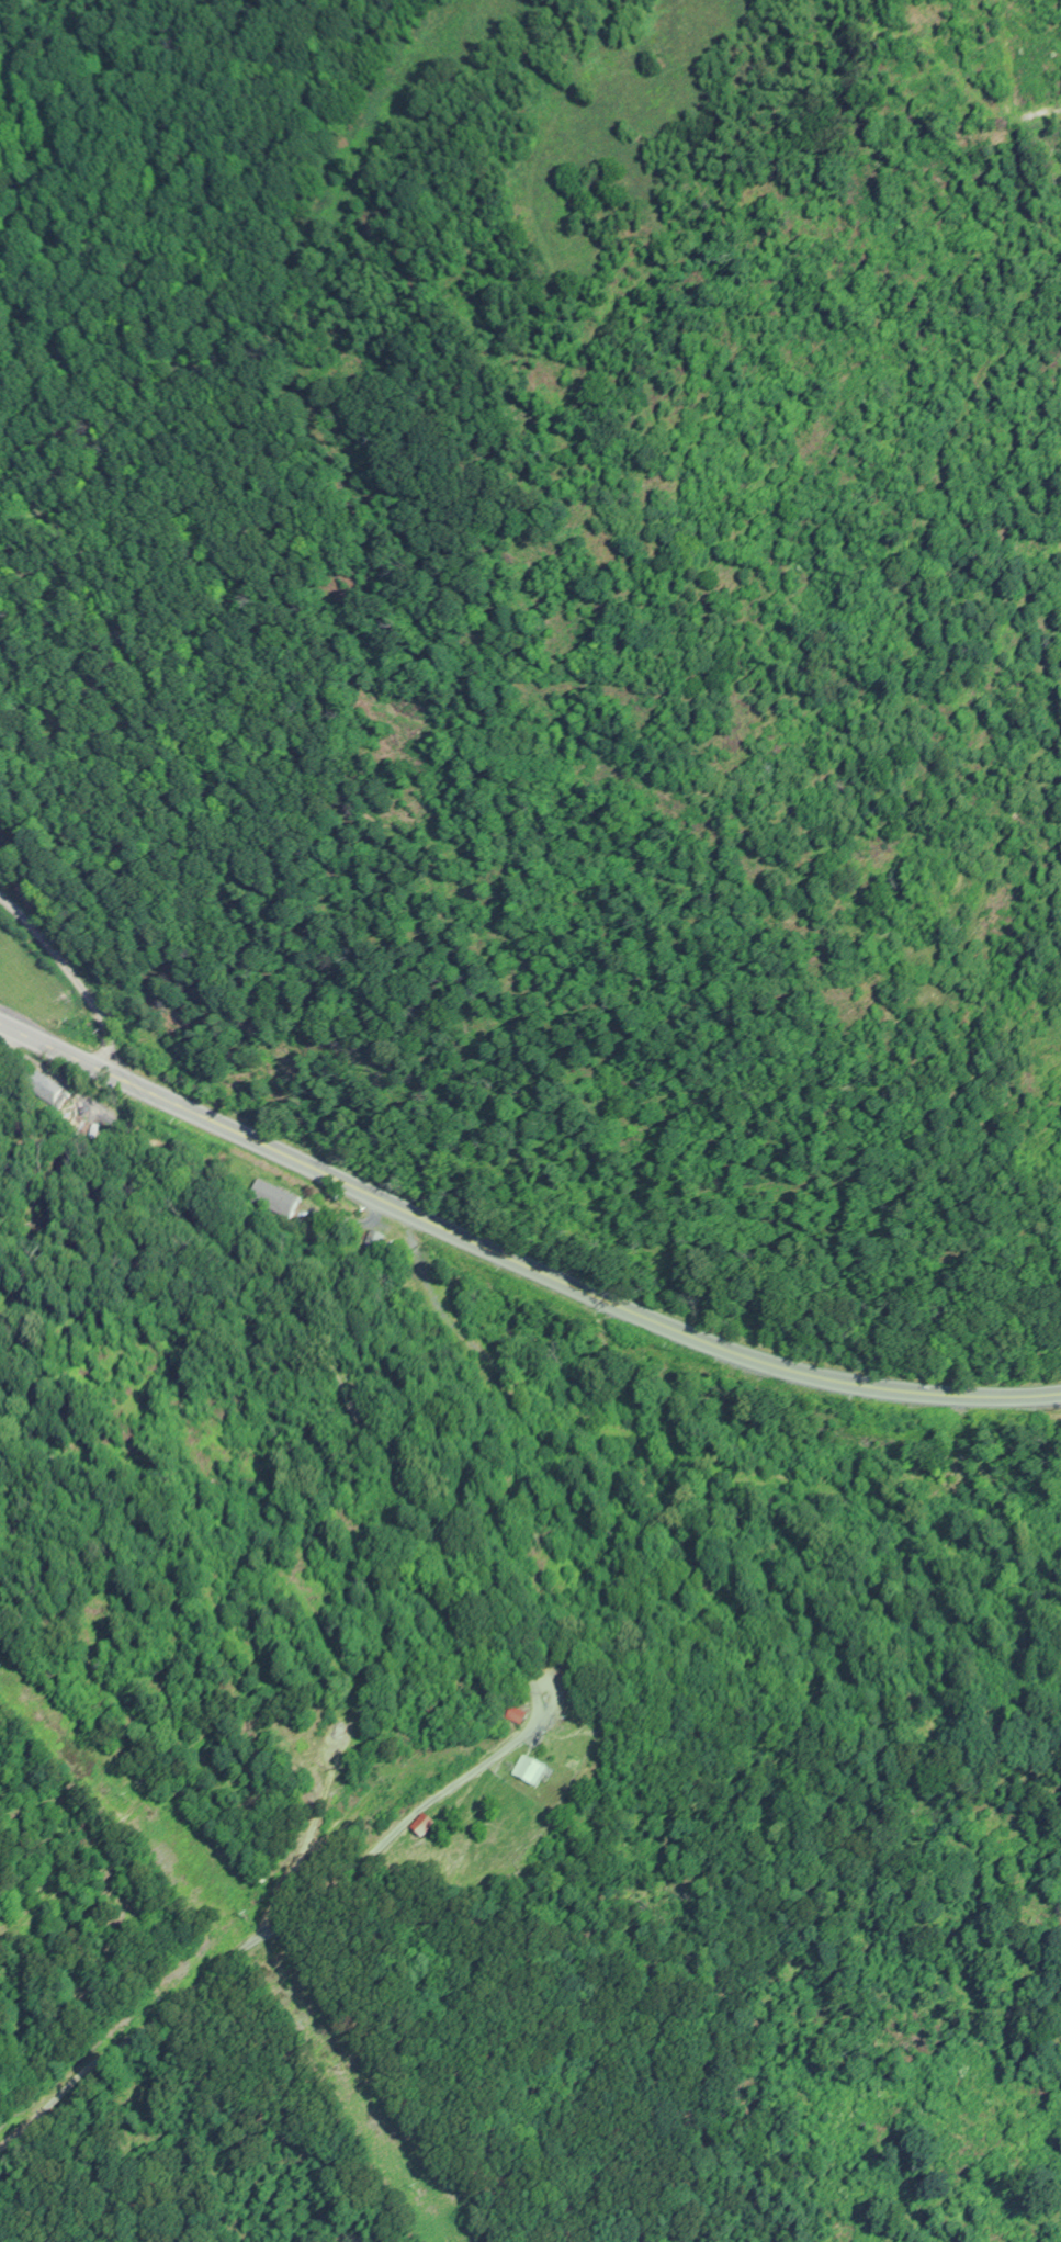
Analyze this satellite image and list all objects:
road: (70, 971)
road: (103, 1137)
road: (516, 1258)
road: (492, 1740)

